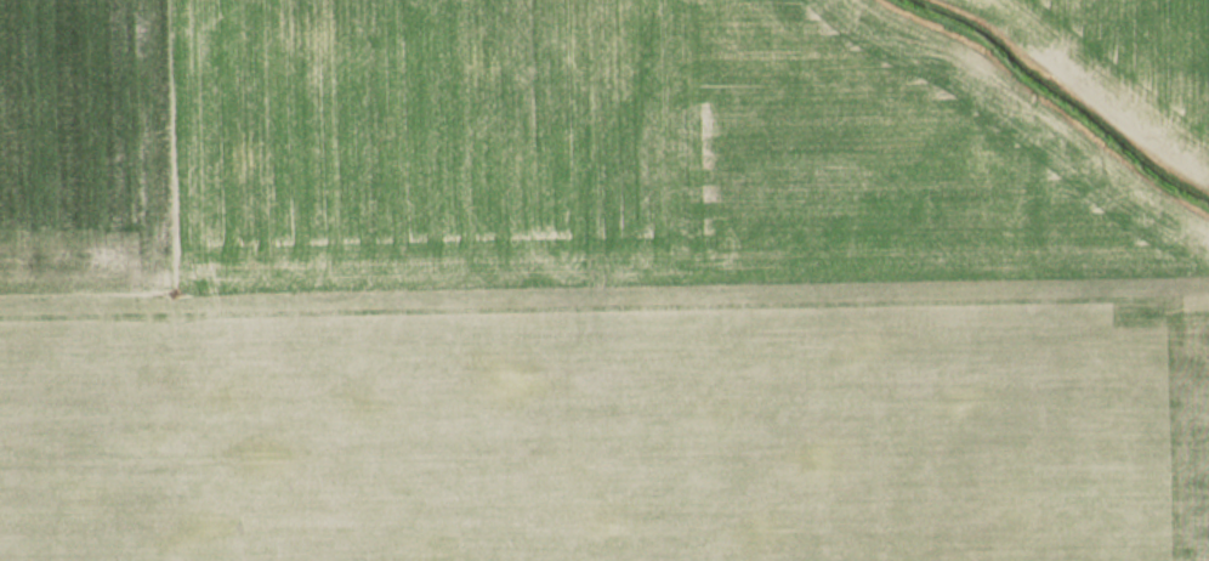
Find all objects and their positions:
crop: (1130, 52)
crop: (567, 295)

